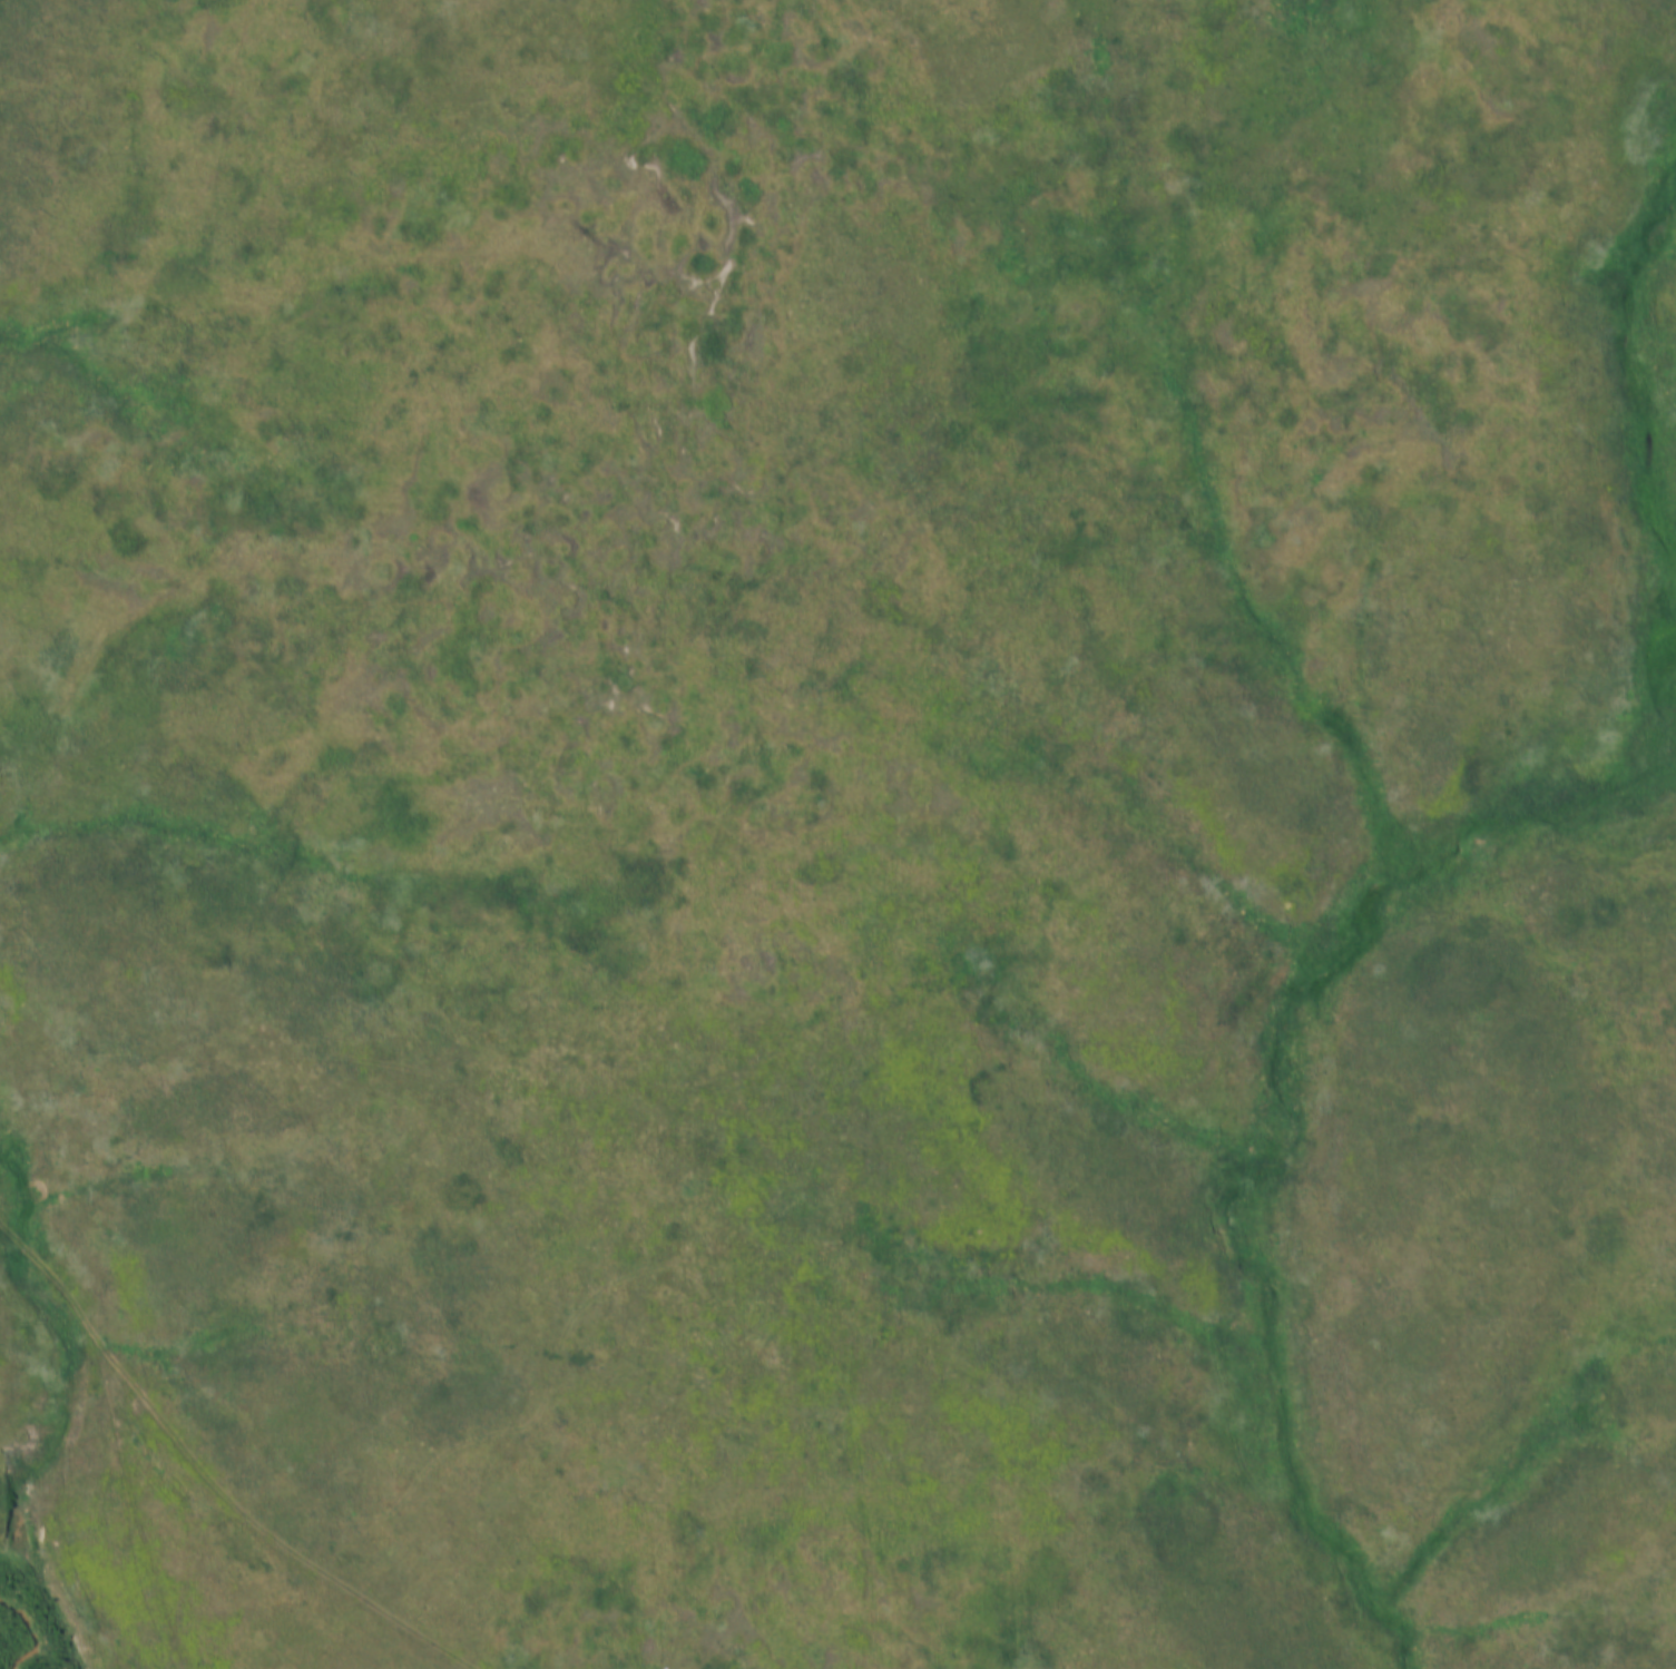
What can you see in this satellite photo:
road: (197, 1477)

